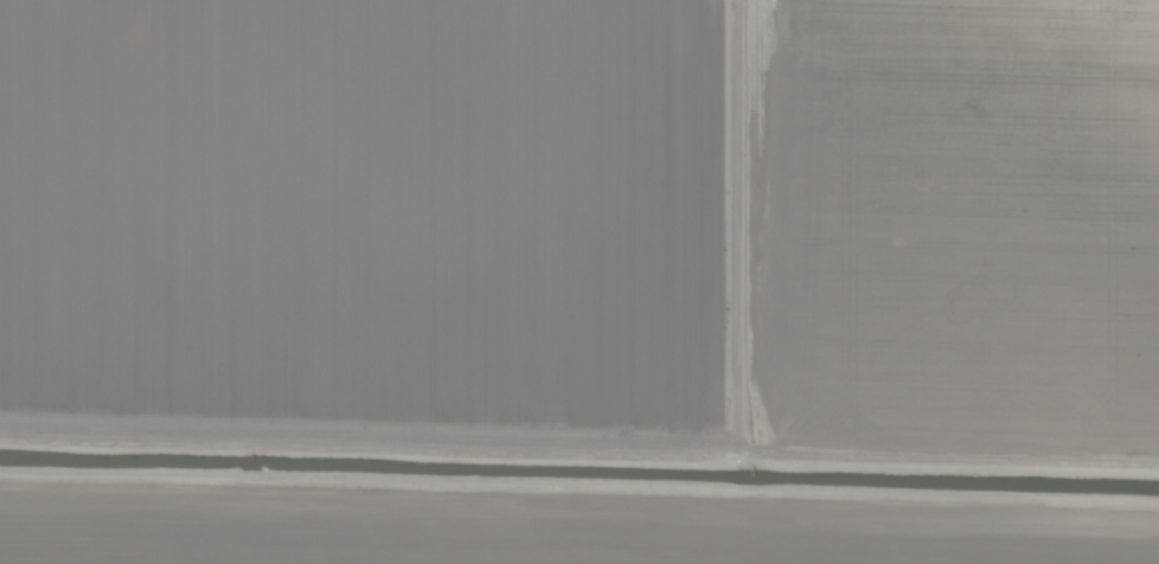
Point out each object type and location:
crop: (579, 282)

